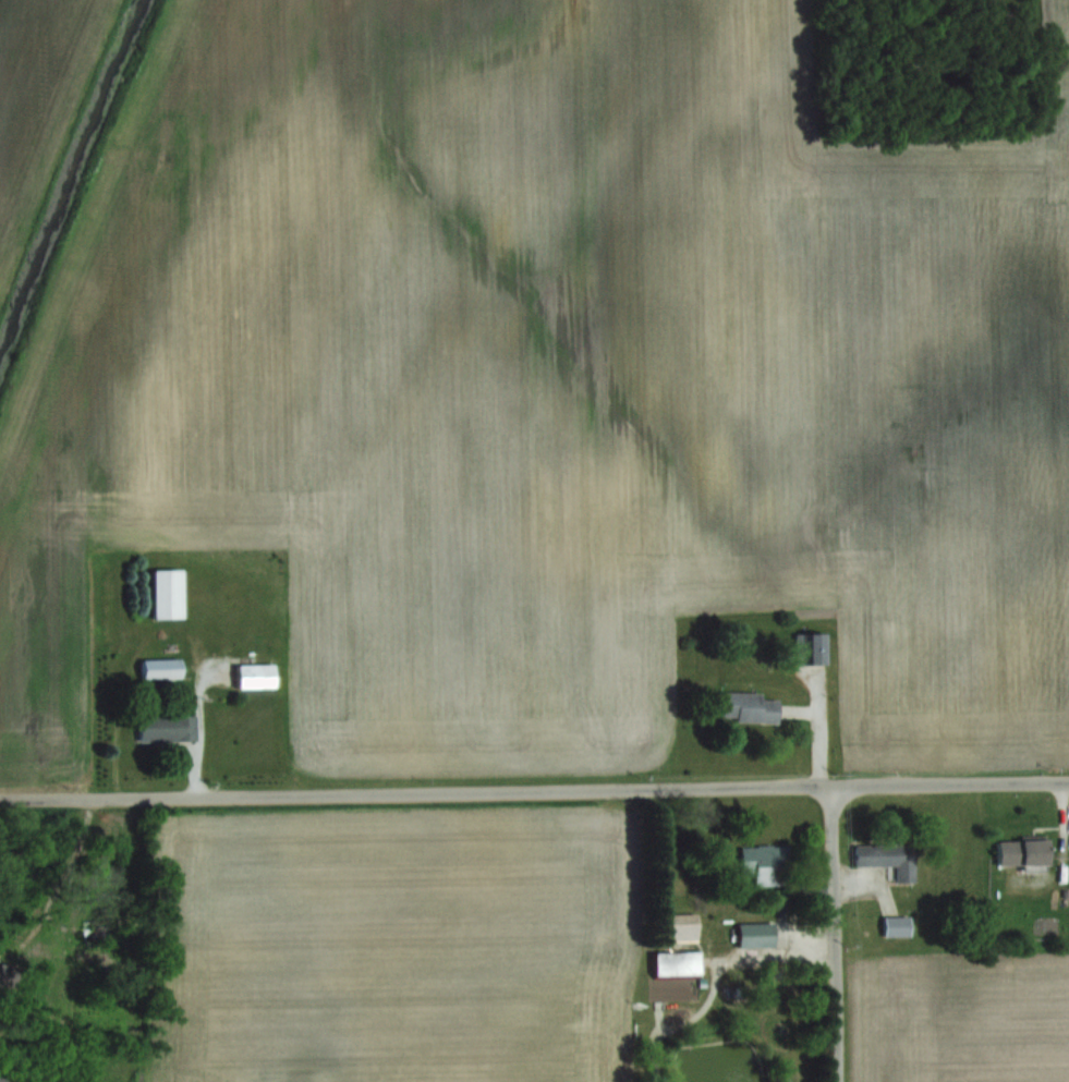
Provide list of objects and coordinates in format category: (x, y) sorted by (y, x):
building: (163, 592)
building: (810, 646)
building: (158, 667)
building: (253, 674)
building: (746, 706)
road: (199, 722)
building: (163, 726)
road: (534, 790)
building: (1020, 851)
building: (886, 856)
building: (765, 862)
building: (678, 892)
building: (681, 925)
building: (755, 933)
road: (836, 934)
building: (675, 961)

